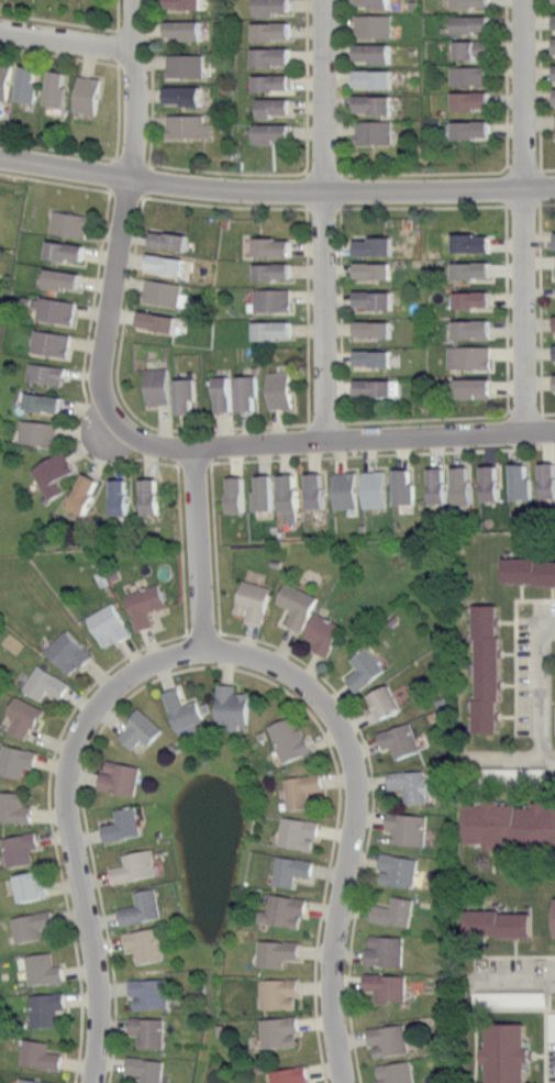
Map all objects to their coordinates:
building: (554, 1)
building: (189, 3)
building: (376, 3)
building: (477, 3)
building: (275, 7)
road: (73, 22)
building: (554, 22)
building: (475, 24)
building: (374, 25)
building: (188, 30)
building: (277, 31)
road: (68, 40)
building: (554, 46)
building: (476, 49)
building: (378, 53)
road: (58, 54)
building: (275, 56)
building: (186, 65)
building: (470, 75)
building: (378, 79)
building: (5, 80)
road: (151, 80)
building: (275, 82)
building: (30, 84)
road: (507, 84)
road: (540, 84)
road: (340, 86)
road: (307, 87)
building: (59, 88)
building: (89, 93)
building: (187, 95)
building: (477, 100)
building: (378, 104)
building: (278, 107)
road: (118, 108)
building: (188, 125)
building: (477, 130)
building: (375, 132)
building: (275, 133)
road: (58, 148)
road: (547, 167)
road: (226, 170)
road: (424, 172)
road: (55, 180)
road: (276, 190)
road: (547, 202)
road: (225, 205)
road: (423, 205)
road: (521, 213)
road: (325, 221)
building: (70, 223)
road: (125, 230)
building: (174, 241)
building: (475, 243)
building: (377, 246)
building: (276, 247)
building: (67, 251)
road: (541, 262)
building: (168, 264)
building: (478, 269)
building: (376, 270)
building: (276, 272)
building: (62, 278)
building: (165, 292)
building: (478, 299)
building: (273, 300)
building: (376, 300)
building: (54, 308)
road: (507, 310)
road: (341, 313)
road: (308, 314)
building: (159, 321)
building: (376, 329)
building: (476, 329)
building: (275, 330)
building: (52, 342)
building: (470, 357)
building: (376, 358)
road: (541, 366)
road: (82, 372)
building: (47, 373)
building: (158, 386)
building: (378, 387)
building: (476, 387)
building: (554, 387)
building: (280, 390)
building: (237, 394)
road: (121, 395)
building: (188, 396)
building: (44, 402)
road: (548, 411)
road: (425, 418)
building: (40, 432)
road: (348, 440)
road: (381, 453)
building: (54, 473)
building: (543, 478)
building: (504, 482)
building: (453, 486)
building: (406, 487)
building: (376, 489)
building: (318, 490)
building: (345, 491)
building: (85, 493)
building: (266, 494)
building: (238, 495)
building: (152, 496)
building: (120, 497)
building: (290, 497)
road: (198, 546)
road: (181, 548)
road: (214, 548)
building: (529, 570)
road: (522, 592)
road: (553, 592)
building: (254, 600)
building: (298, 603)
building: (146, 605)
road: (507, 620)
building: (109, 623)
building: (323, 633)
road: (515, 647)
building: (68, 651)
road: (507, 653)
building: (486, 668)
building: (364, 670)
building: (47, 683)
road: (539, 683)
road: (508, 684)
building: (381, 705)
park: (553, 705)
building: (232, 707)
building: (182, 709)
building: (25, 716)
road: (508, 716)
park: (554, 725)
building: (140, 729)
building: (289, 738)
building: (399, 738)
road: (511, 758)
building: (16, 760)
building: (121, 776)
building: (413, 784)
road: (507, 784)
building: (302, 788)
road: (491, 791)
road: (542, 793)
building: (14, 807)
road: (371, 816)
road: (354, 821)
building: (124, 824)
building: (511, 824)
road: (52, 825)
building: (407, 826)
road: (86, 827)
road: (74, 828)
building: (299, 833)
building: (21, 847)
road: (333, 850)
building: (134, 866)
road: (522, 869)
building: (291, 870)
building: (398, 870)
park: (511, 877)
building: (34, 886)
building: (143, 907)
building: (286, 910)
building: (393, 910)
building: (550, 915)
building: (500, 924)
building: (33, 926)
building: (144, 943)
road: (514, 947)
building: (385, 951)
building: (278, 953)
road: (513, 955)
building: (43, 969)
road: (521, 972)
building: (386, 985)
building: (151, 993)
building: (280, 994)
building: (504, 997)
road: (550, 1001)
building: (47, 1007)
road: (510, 1007)
road: (551, 1009)
building: (151, 1030)
building: (280, 1032)
building: (389, 1039)
building: (504, 1051)
building: (40, 1053)
building: (147, 1069)
building: (396, 1072)
building: (290, 1075)
building: (32, 1081)

